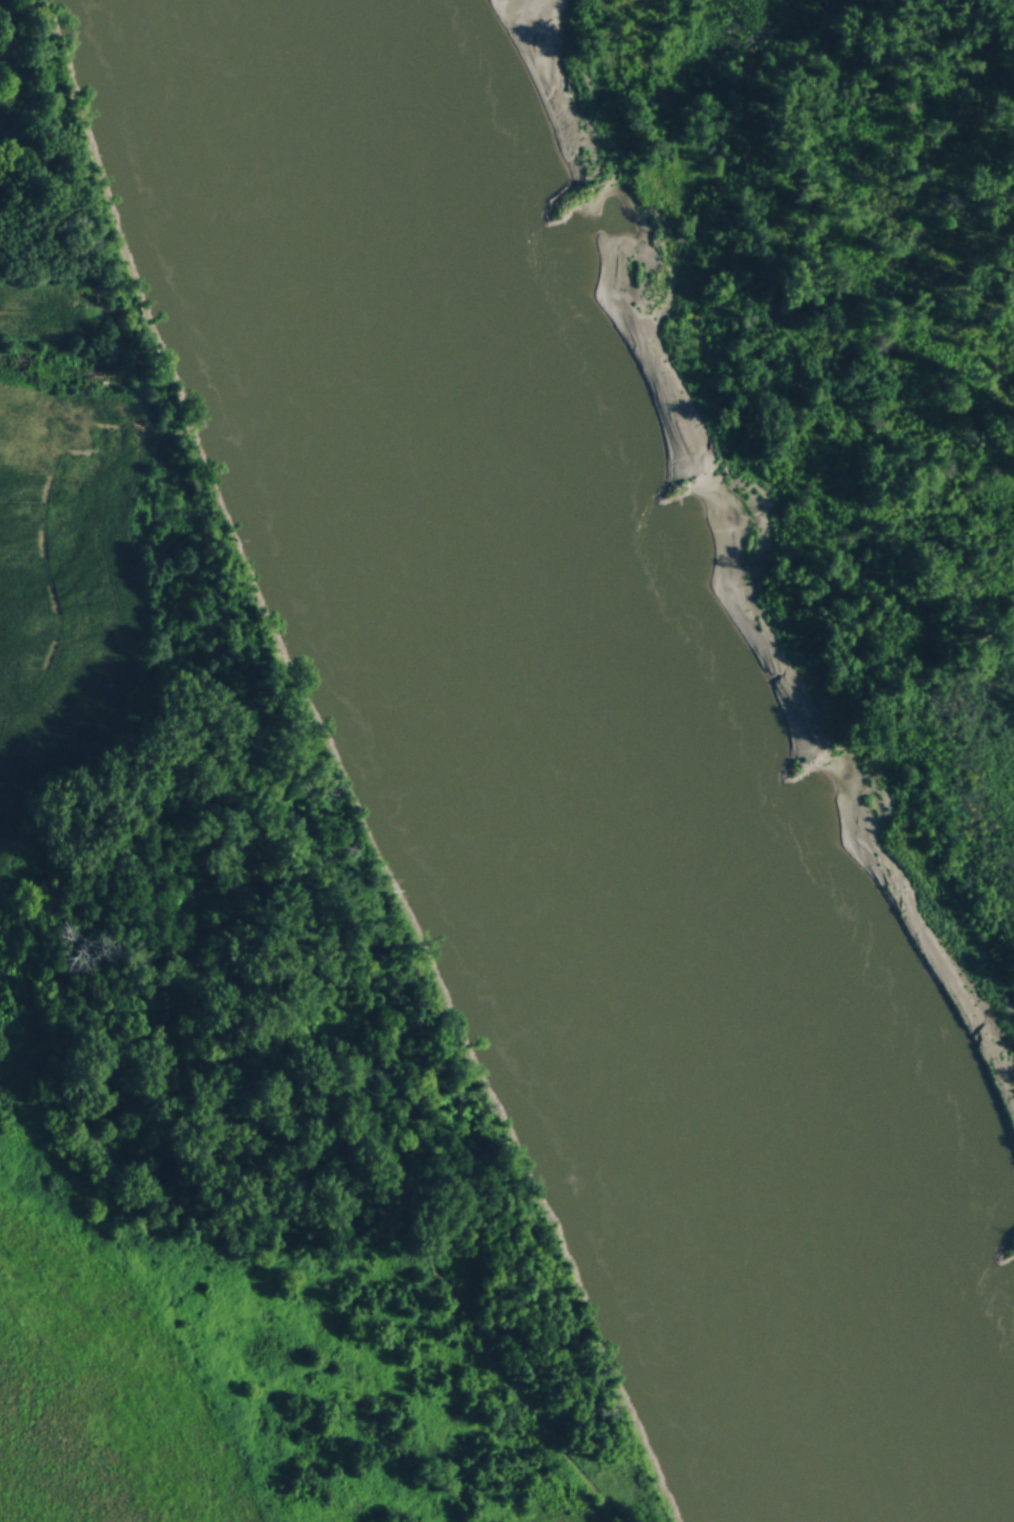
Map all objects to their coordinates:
river: (531, 633)
road: (181, 1355)
river: (856, 1391)

